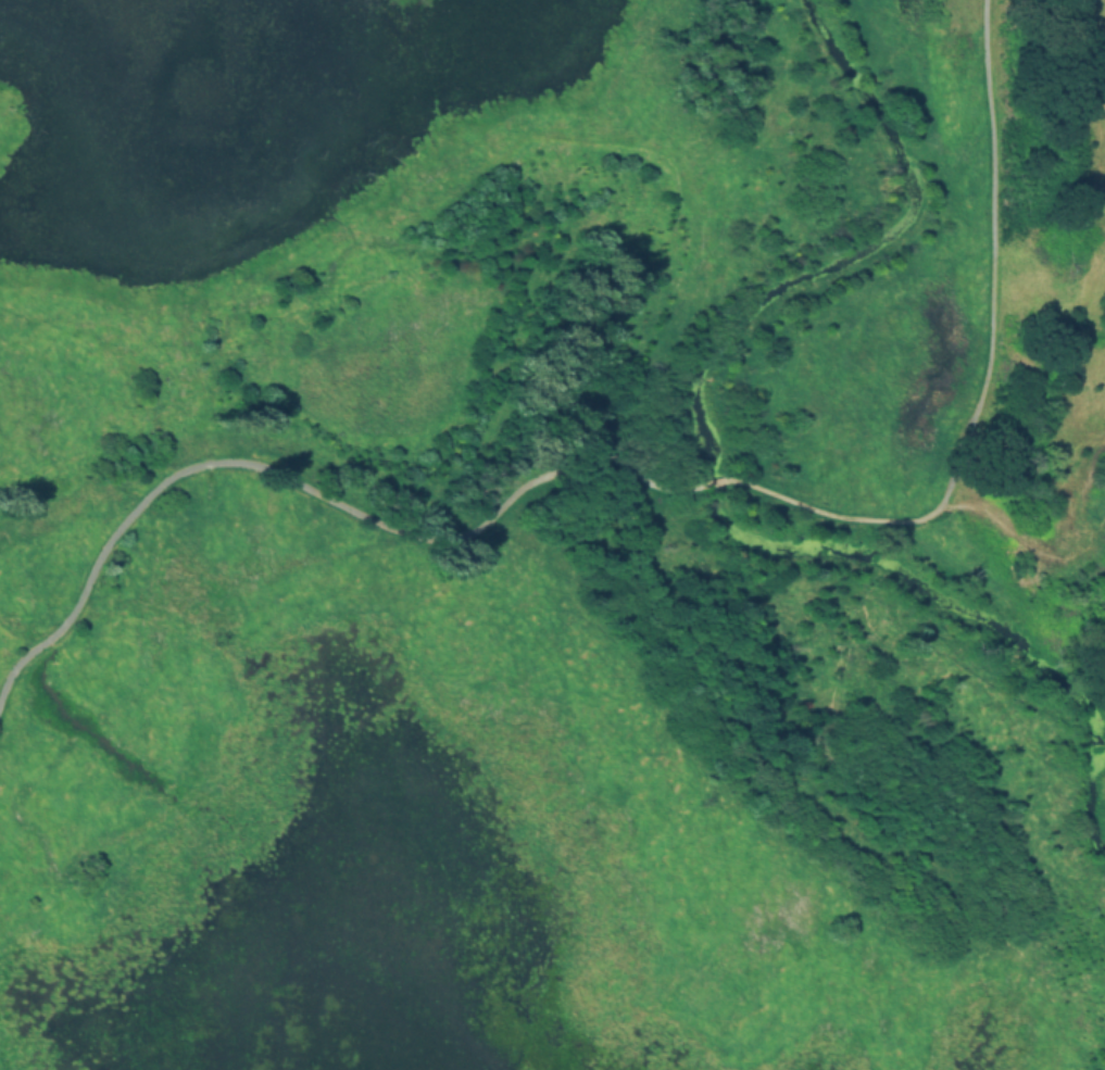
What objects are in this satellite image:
road: (984, 367)
road: (713, 483)
road: (301, 484)

